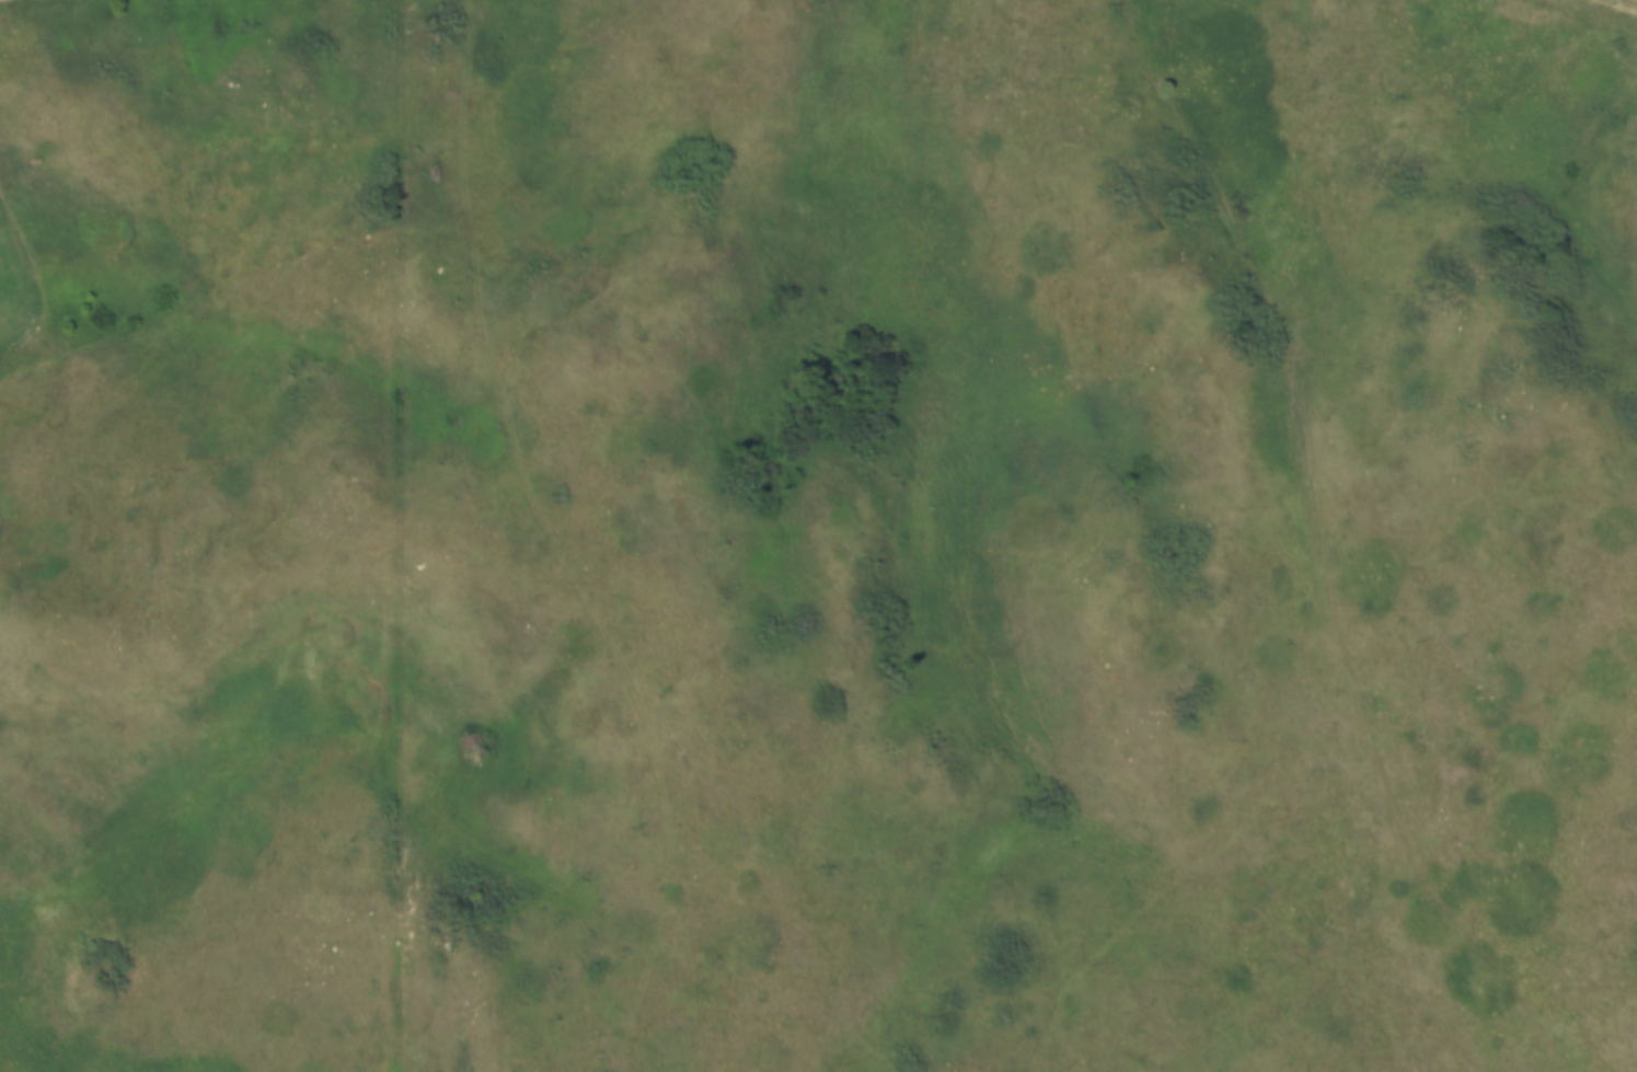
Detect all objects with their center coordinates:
road: (1611, 9)

